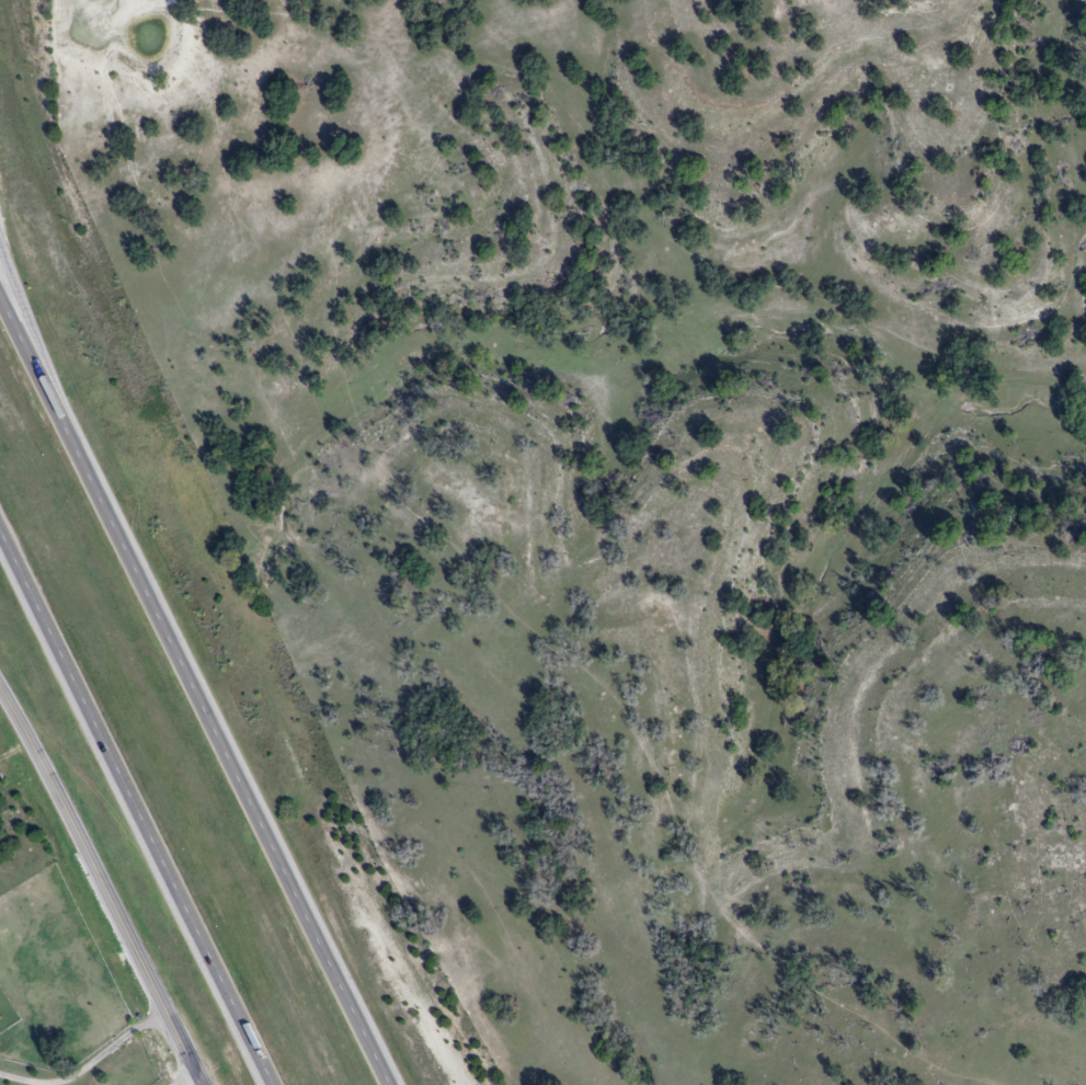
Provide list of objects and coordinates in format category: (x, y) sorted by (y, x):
road: (32, 328)
road: (199, 690)
road: (136, 806)
road: (102, 887)
road: (106, 1050)
road: (19, 1080)
road: (195, 1081)

